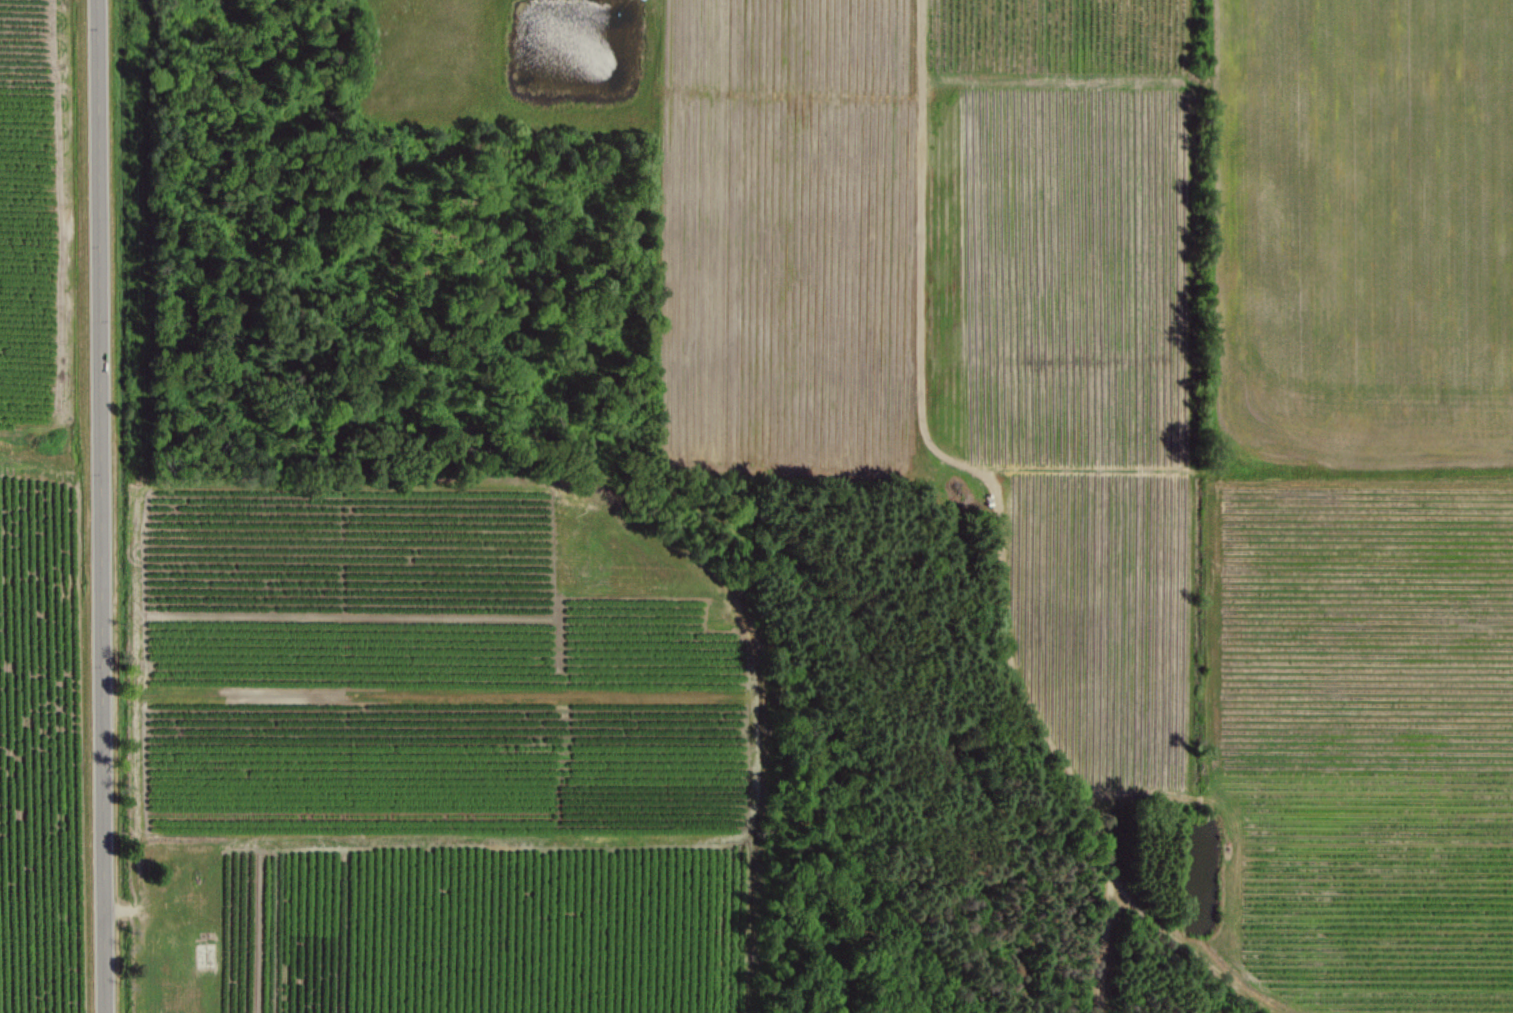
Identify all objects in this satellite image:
road: (103, 506)

